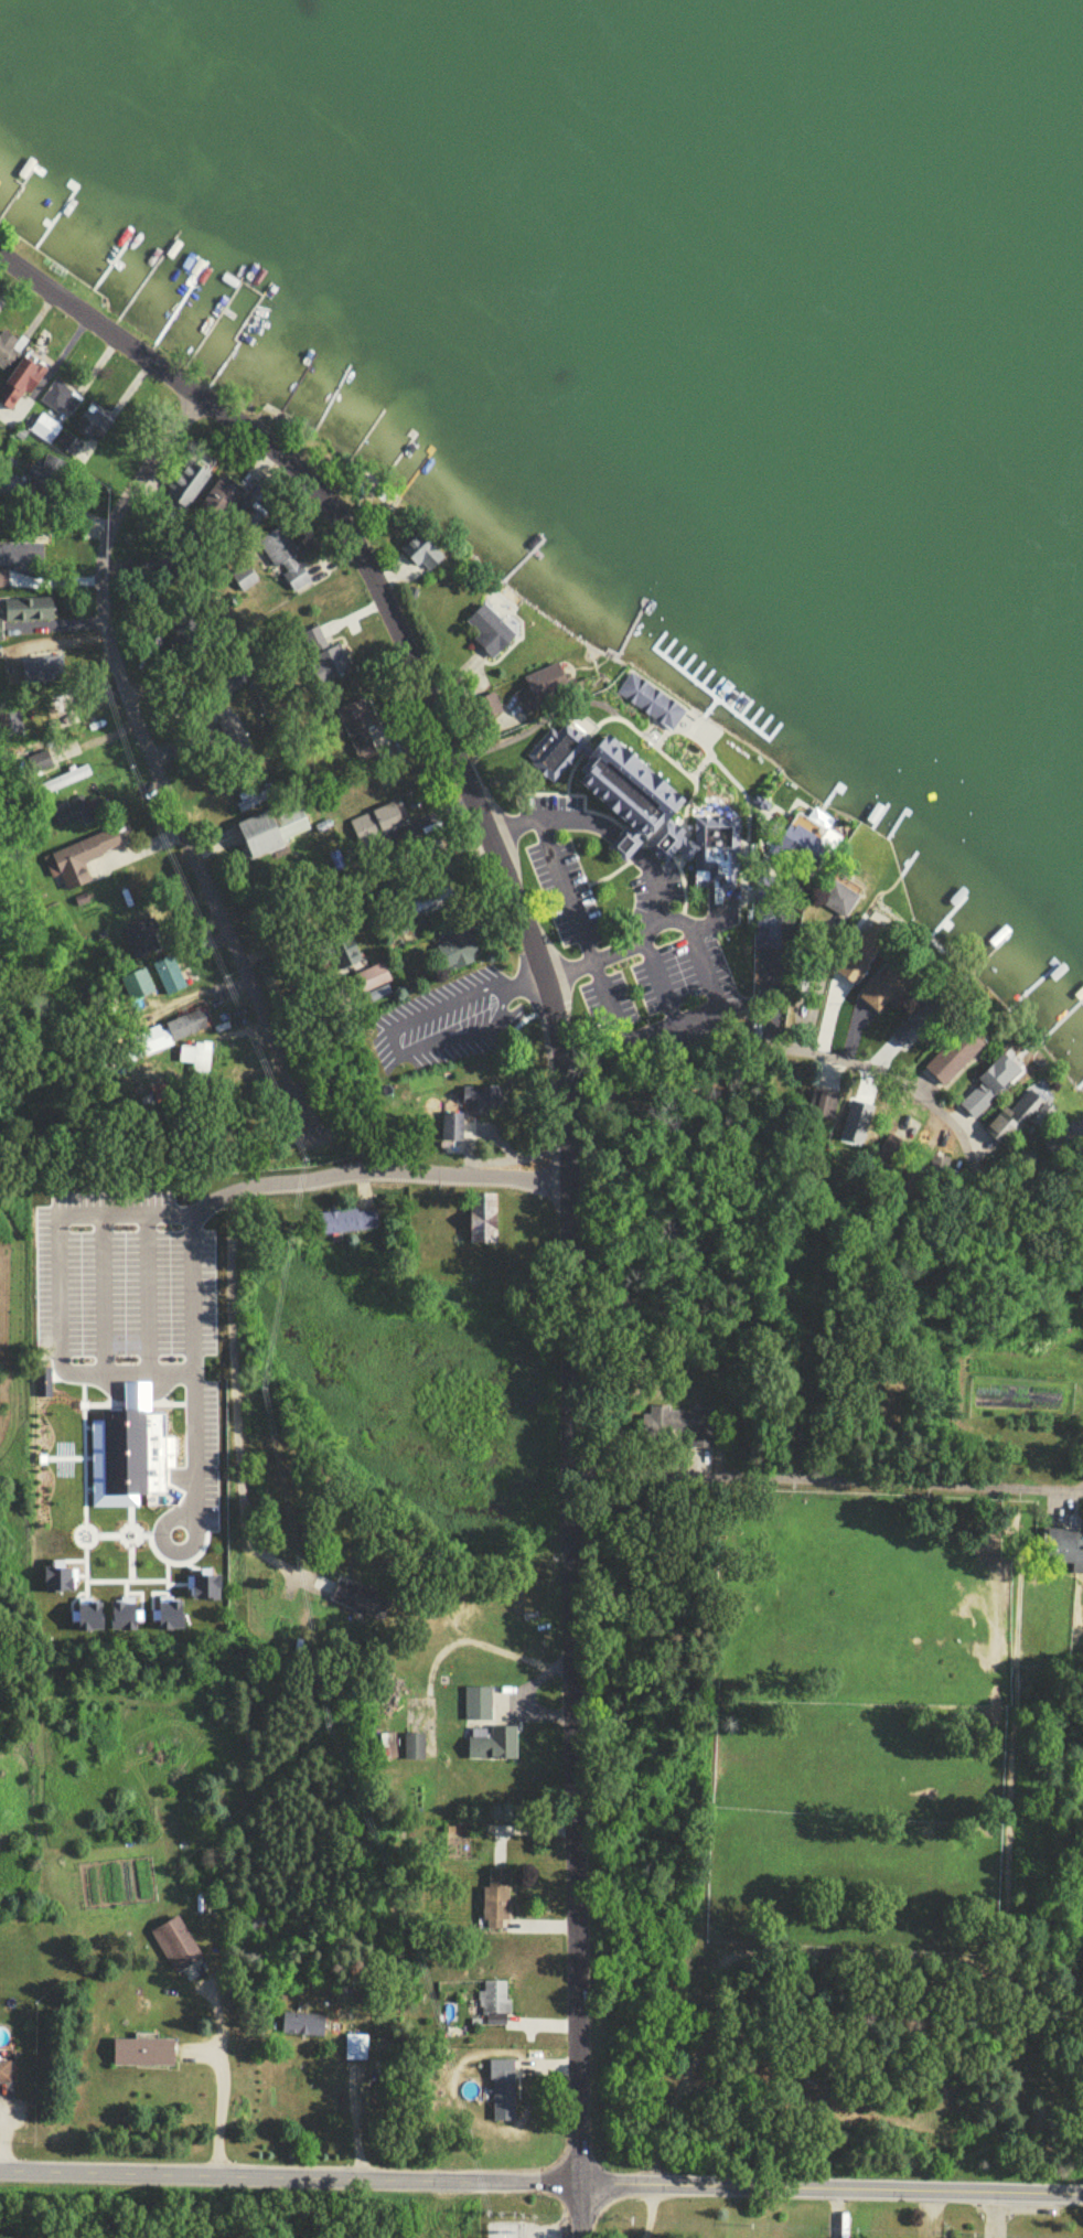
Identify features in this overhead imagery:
building: (8, 350)
building: (21, 386)
building: (61, 401)
building: (93, 428)
building: (46, 431)
building: (191, 485)
building: (222, 503)
building: (278, 552)
building: (423, 555)
building: (21, 560)
building: (26, 613)
building: (492, 633)
building: (340, 663)
building: (43, 671)
building: (548, 684)
building: (652, 705)
building: (66, 715)
building: (363, 735)
building: (233, 736)
building: (558, 753)
road: (150, 765)
building: (35, 767)
building: (65, 783)
building: (635, 803)
road: (554, 816)
building: (72, 822)
building: (379, 826)
building: (277, 832)
road: (628, 843)
building: (84, 861)
road: (567, 888)
building: (840, 900)
building: (144, 927)
building: (879, 938)
road: (636, 940)
building: (455, 950)
road: (526, 976)
building: (170, 977)
building: (372, 981)
road: (458, 998)
road: (501, 1002)
road: (693, 1013)
road: (395, 1036)
road: (790, 1038)
road: (448, 1039)
building: (986, 1092)
building: (463, 1117)
building: (1018, 1117)
road: (567, 1138)
road: (243, 1195)
building: (351, 1222)
road: (60, 1288)
road: (195, 1341)
building: (674, 1426)
road: (825, 1477)
building: (1077, 1563)
building: (479, 1711)
building: (495, 1749)
building: (496, 1906)
building: (179, 1949)
building: (493, 2012)
building: (356, 2050)
building: (147, 2056)
road: (216, 2071)
building: (6, 2075)
building: (504, 2094)
road: (541, 2177)
power substation: (504, 2232)

